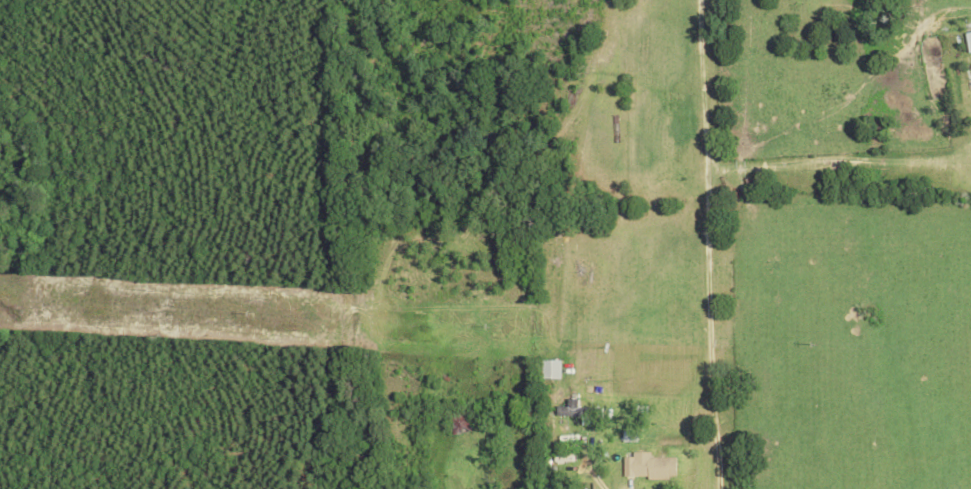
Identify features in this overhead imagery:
building: (968, 41)
road: (839, 164)
road: (701, 245)
building: (549, 368)
building: (577, 410)
building: (648, 465)
road: (592, 474)

